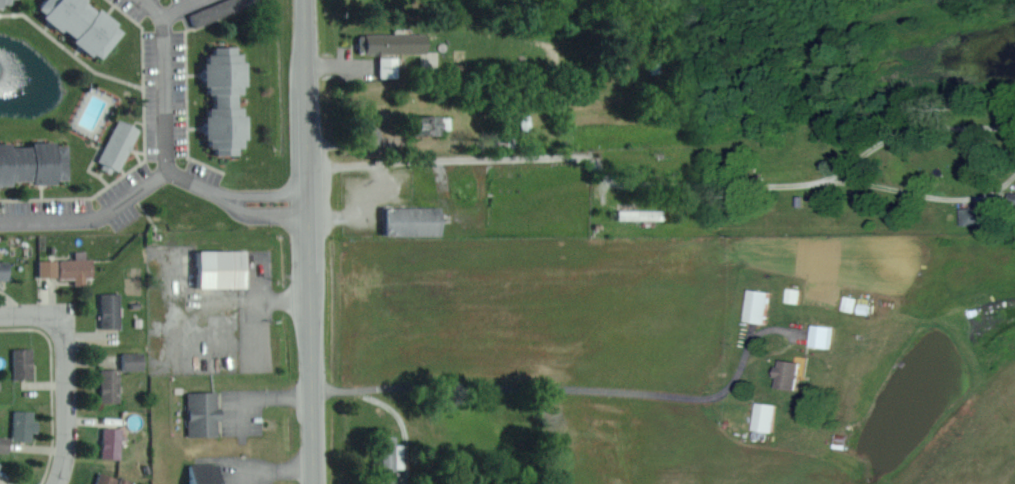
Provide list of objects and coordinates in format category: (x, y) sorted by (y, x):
building: (5, 2)
road: (155, 7)
road: (183, 7)
building: (219, 11)
building: (88, 23)
building: (397, 43)
building: (392, 66)
road: (165, 94)
building: (230, 100)
building: (436, 124)
road: (912, 131)
building: (121, 145)
road: (574, 156)
building: (35, 163)
road: (921, 193)
road: (235, 197)
road: (360, 210)
building: (644, 214)
building: (984, 215)
road: (89, 218)
building: (418, 221)
road: (310, 242)
building: (52, 268)
building: (80, 268)
building: (6, 270)
building: (796, 294)
building: (763, 305)
building: (113, 310)
building: (828, 335)
building: (135, 360)
building: (26, 364)
road: (69, 371)
building: (795, 373)
building: (113, 385)
road: (526, 398)
building: (207, 413)
building: (770, 416)
building: (27, 425)
building: (115, 442)
building: (6, 443)
building: (398, 454)
building: (0, 470)
building: (209, 473)
building: (109, 479)
building: (397, 482)

